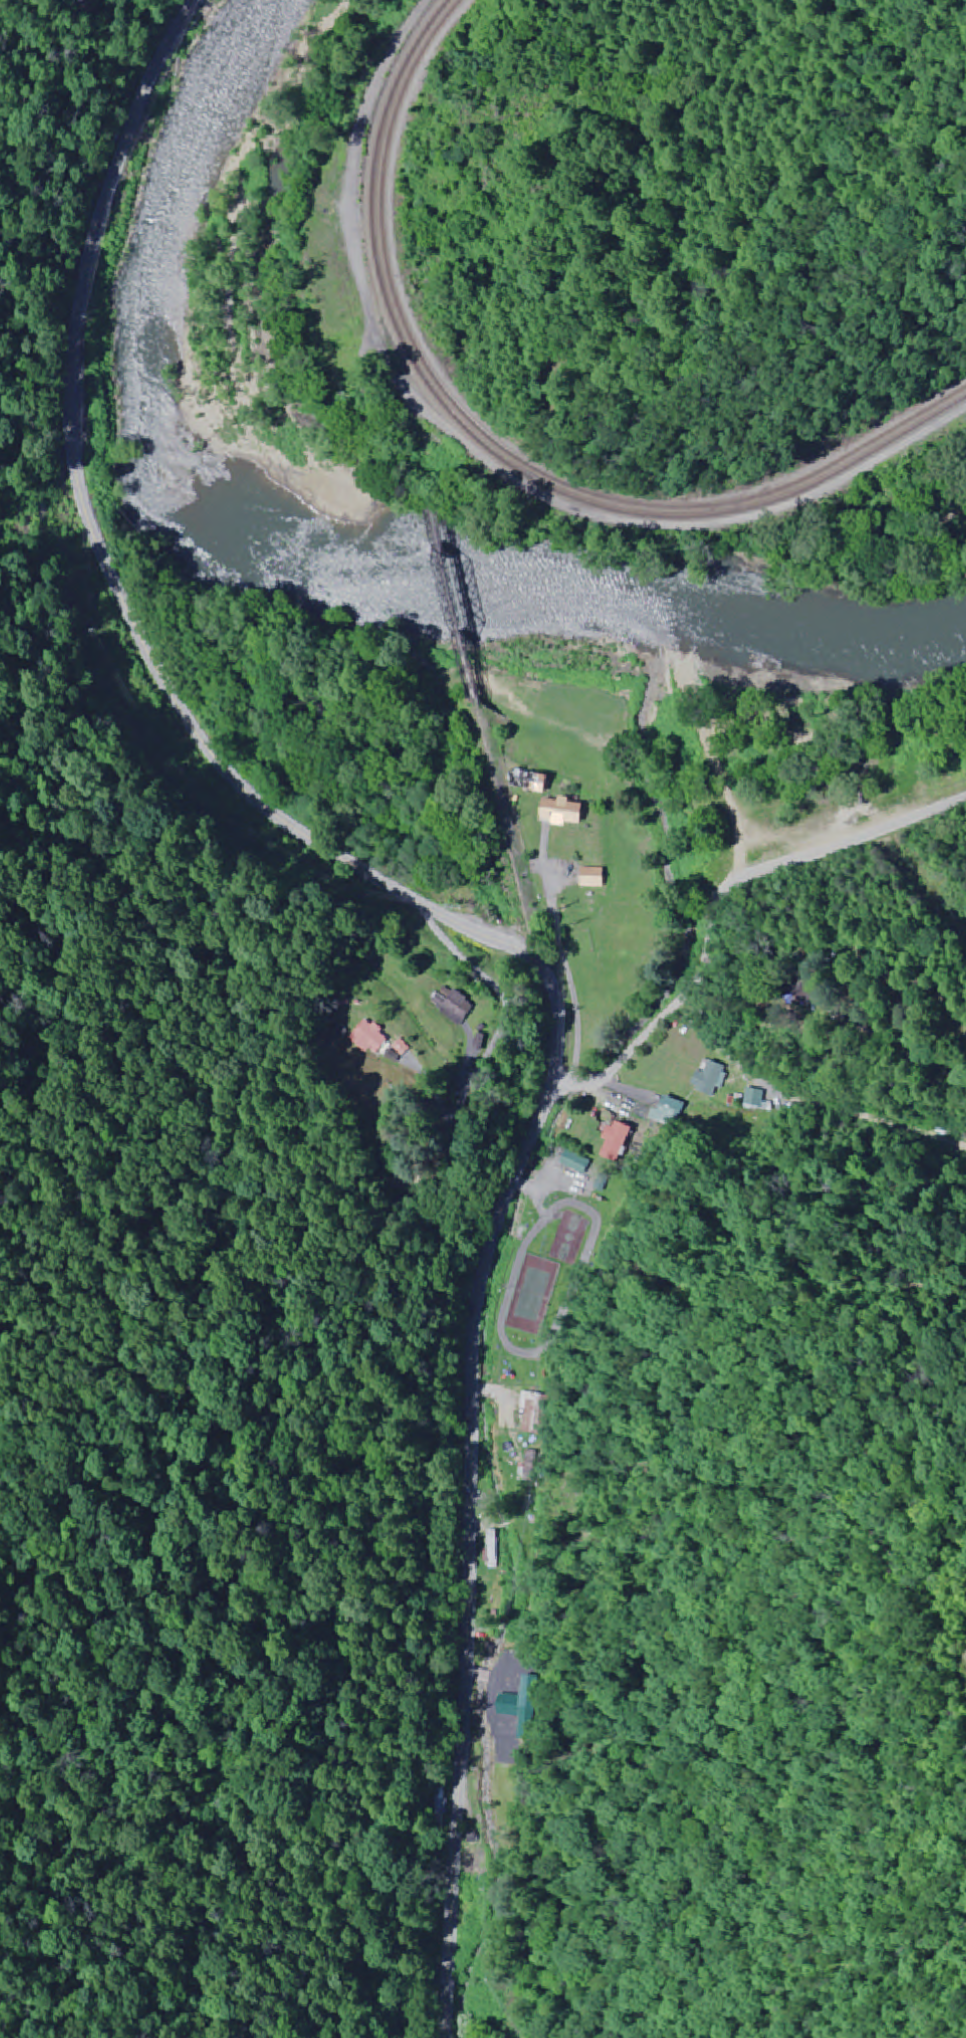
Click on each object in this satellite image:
railway: (501, 448)
road: (482, 457)
river: (298, 548)
building: (537, 781)
building: (571, 811)
building: (597, 877)
road: (709, 899)
road: (493, 936)
building: (465, 1007)
building: (376, 1038)
road: (270, 1067)
building: (710, 1078)

